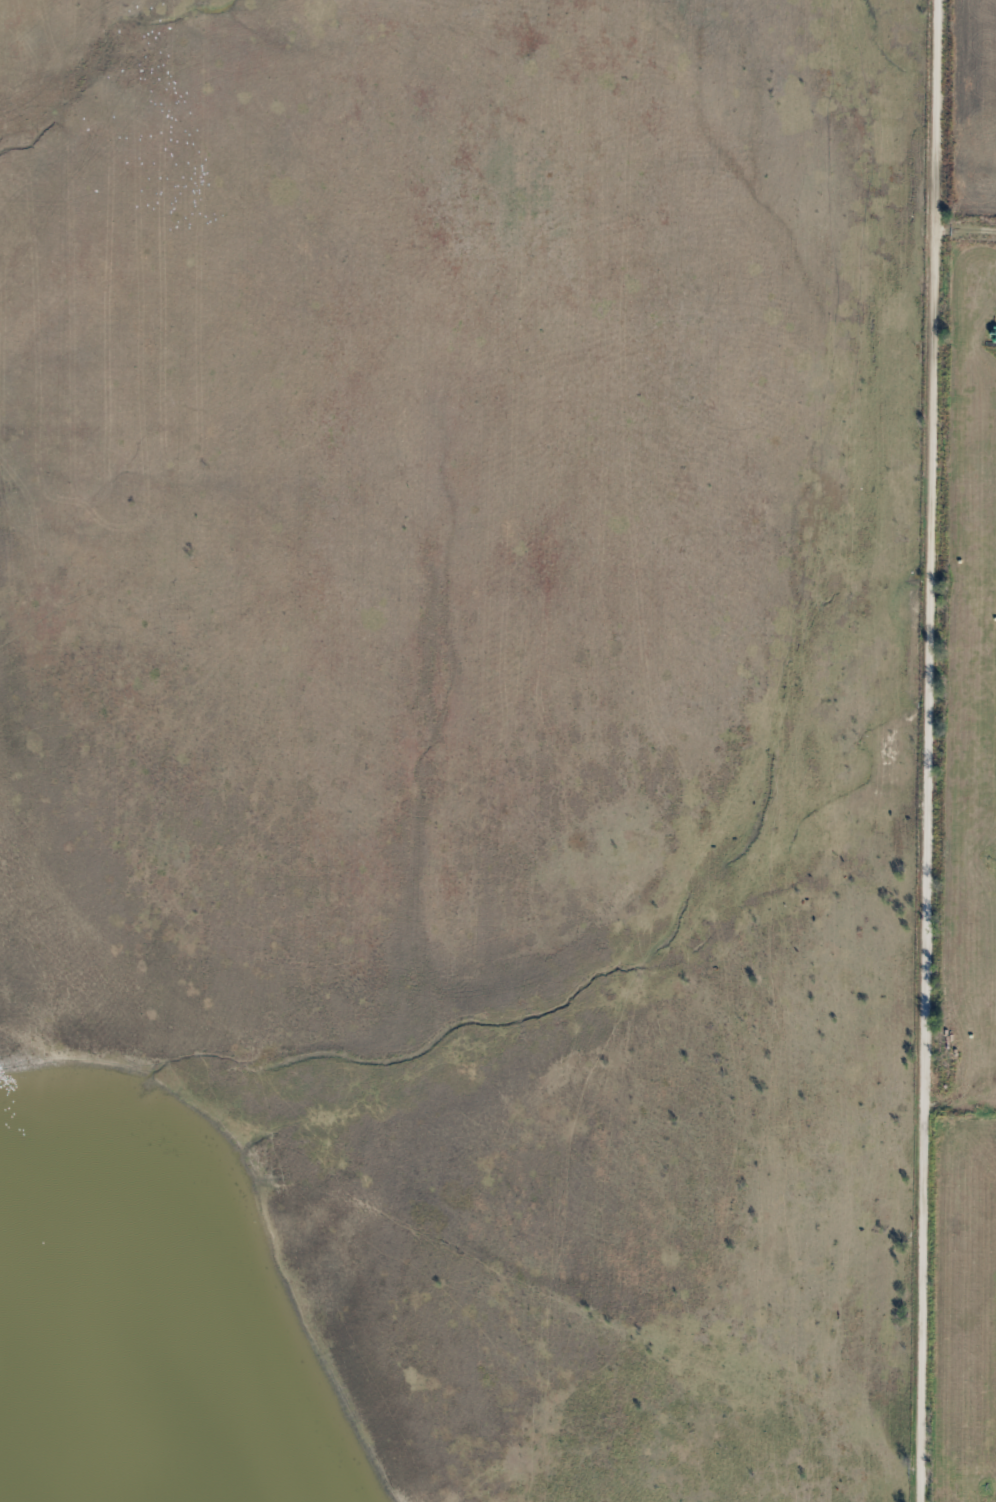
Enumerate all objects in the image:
road: (927, 751)

